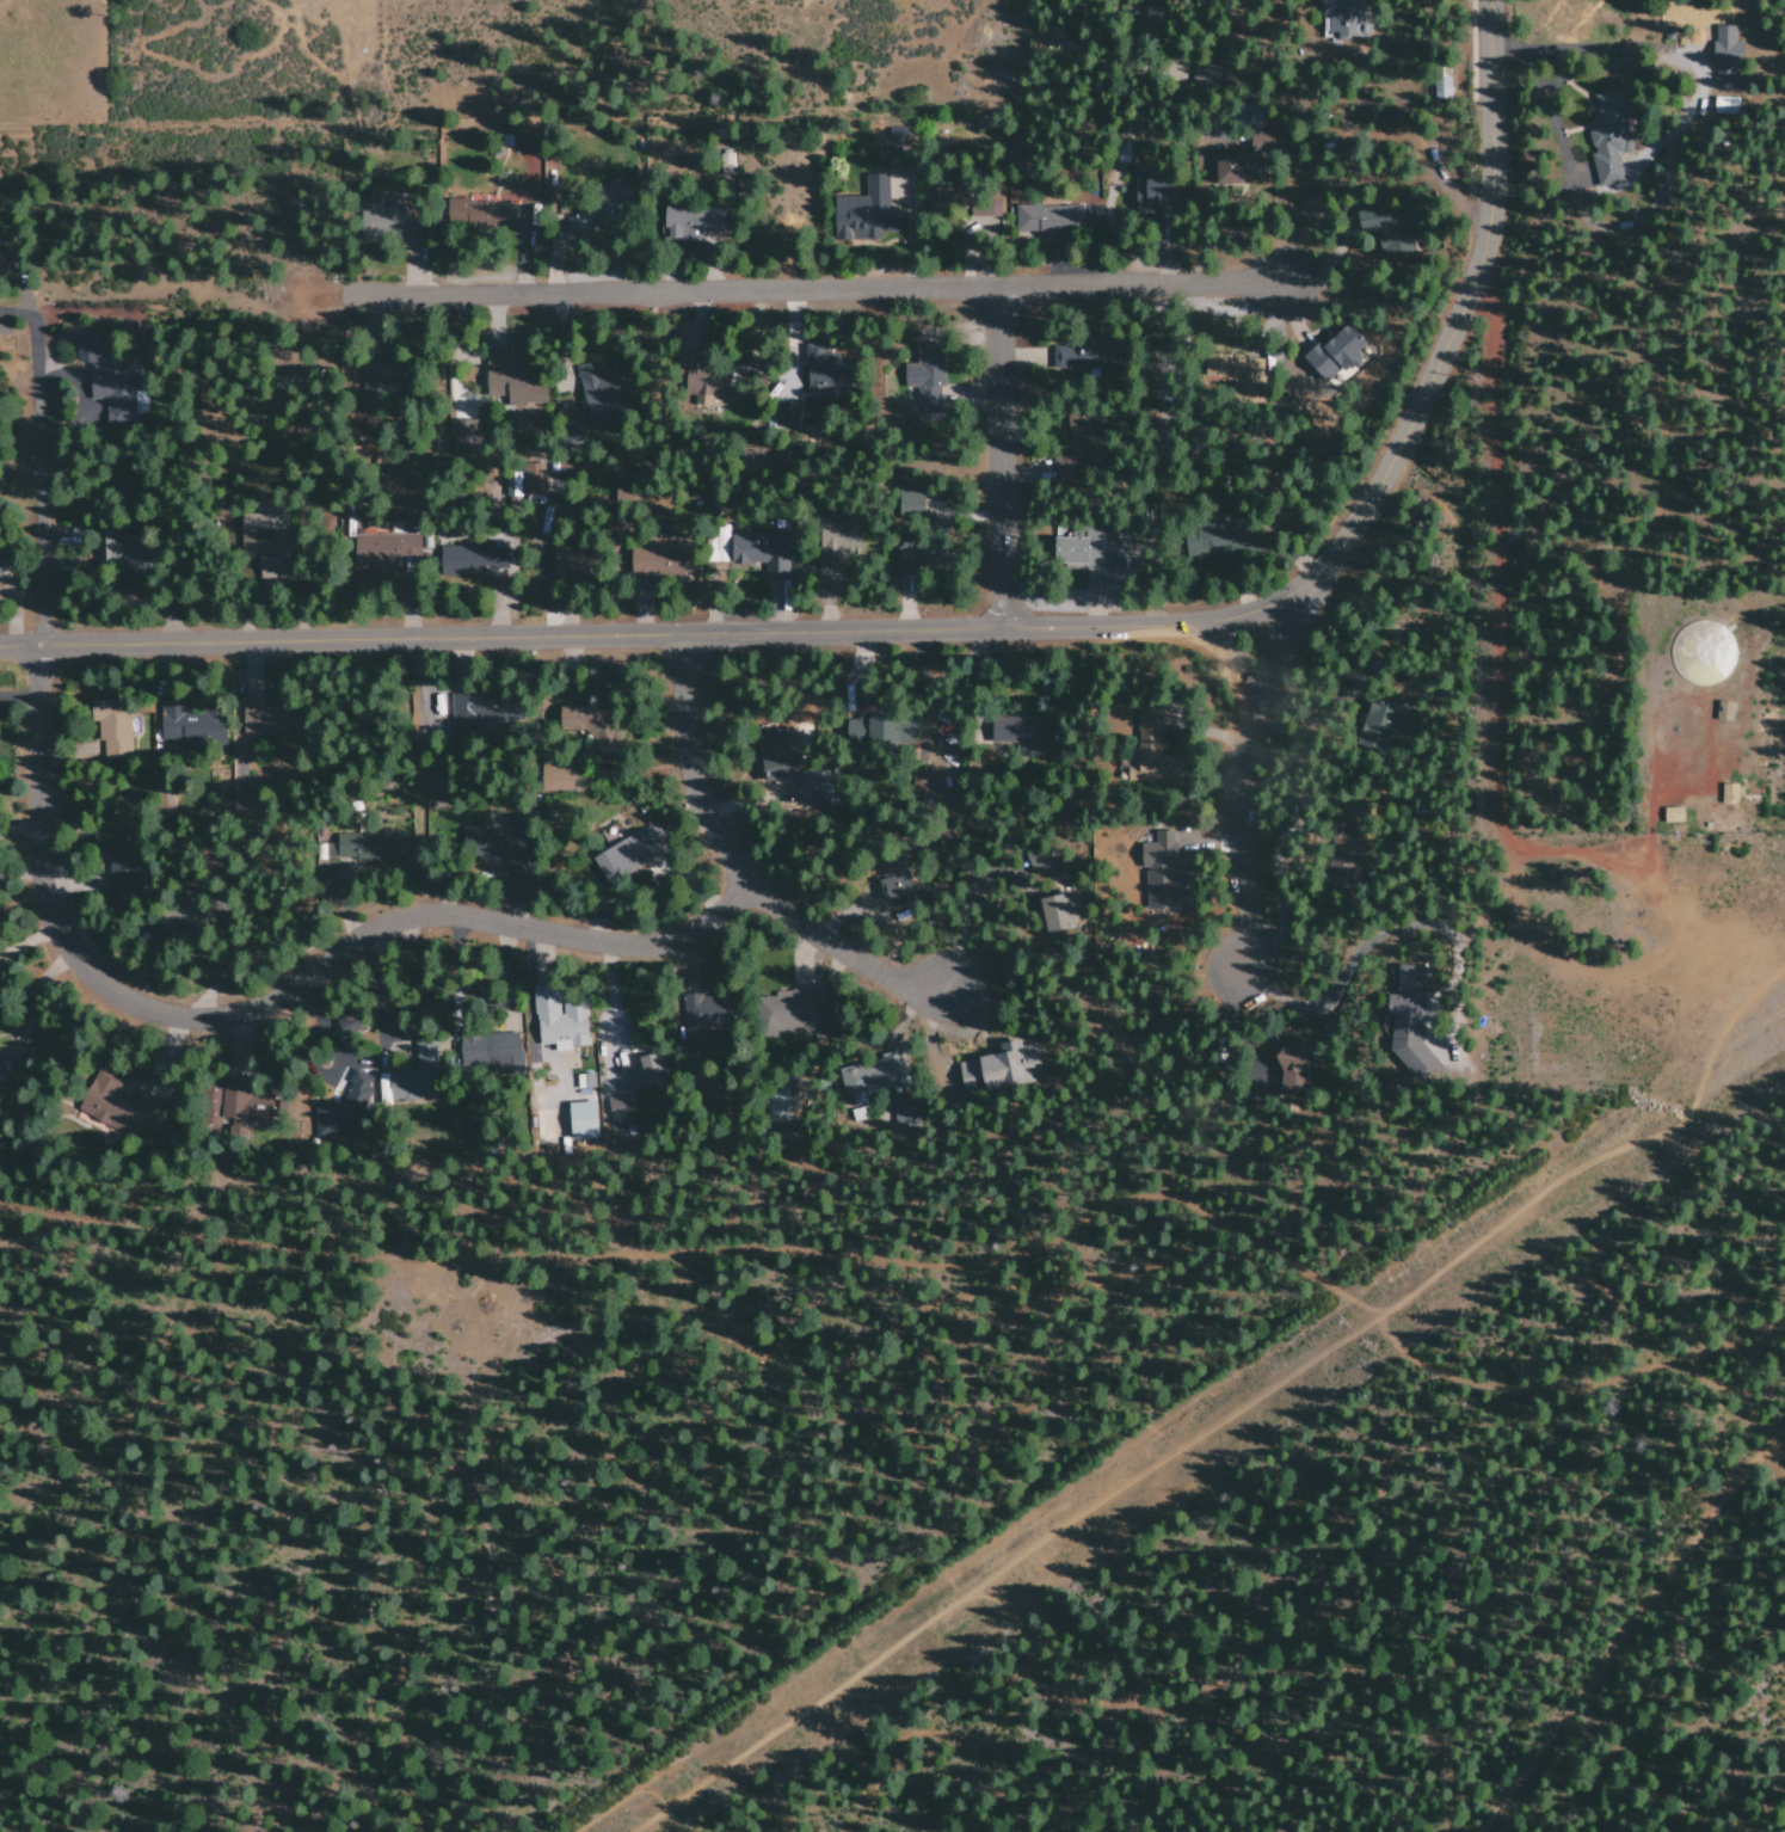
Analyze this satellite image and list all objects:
building: (1343, 19)
building: (1726, 53)
building: (1442, 84)
building: (1725, 105)
building: (898, 134)
building: (1611, 137)
building: (1218, 145)
building: (1248, 156)
building: (1152, 199)
building: (985, 205)
building: (867, 211)
building: (479, 213)
building: (381, 219)
building: (1057, 219)
building: (694, 223)
building: (1387, 230)
road: (701, 287)
building: (1334, 352)
building: (1072, 355)
road: (1440, 369)
building: (826, 373)
building: (927, 374)
building: (513, 377)
building: (703, 385)
building: (598, 387)
building: (115, 395)
building: (461, 431)
road: (997, 455)
building: (533, 481)
building: (913, 506)
road: (1494, 528)
building: (716, 546)
building: (383, 548)
building: (1084, 551)
building: (769, 552)
building: (473, 560)
building: (663, 560)
building: (0, 566)
road: (601, 623)
road: (1263, 695)
building: (479, 714)
building: (589, 723)
building: (191, 724)
building: (872, 730)
building: (115, 739)
road: (1244, 794)
building: (1673, 814)
building: (368, 844)
building: (629, 854)
road: (735, 863)
building: (1162, 869)
building: (894, 884)
building: (1059, 911)
building: (1407, 990)
road: (266, 1001)
building: (707, 1013)
building: (784, 1013)
building: (560, 1020)
building: (491, 1050)
building: (651, 1069)
building: (999, 1069)
building: (873, 1076)
building: (585, 1082)
building: (618, 1112)
road: (938, 1265)
road: (1199, 1402)
road: (1755, 1426)
road: (1632, 1631)
road: (1700, 1692)

